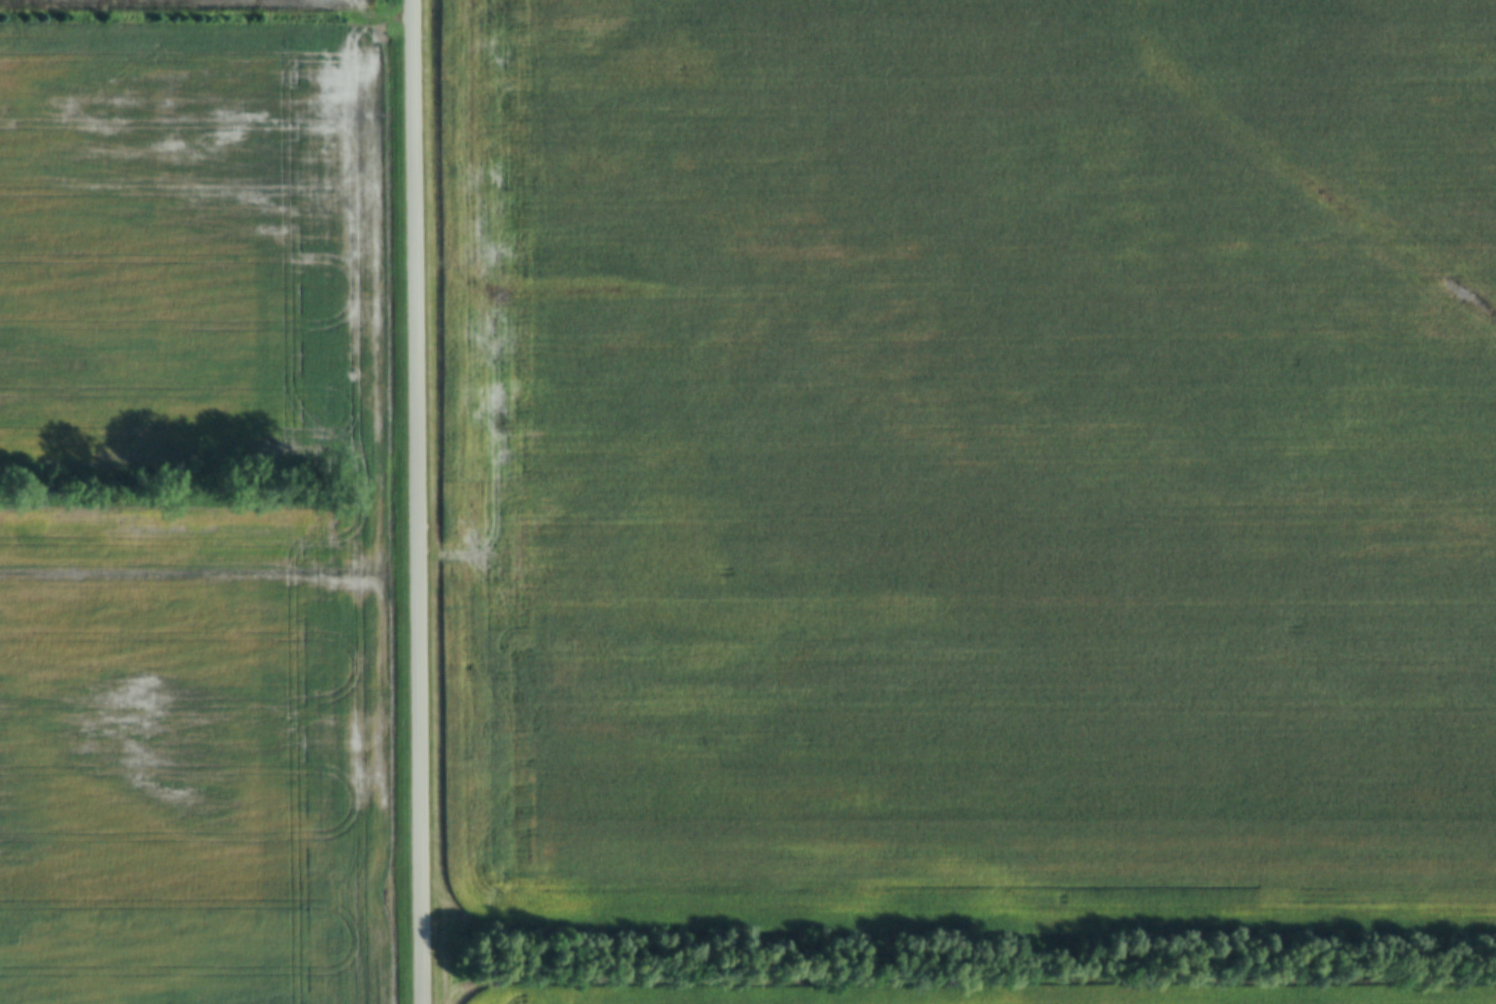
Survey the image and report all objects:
road: (208, 7)
crop: (192, 10)
road: (424, 501)
crop: (192, 519)

